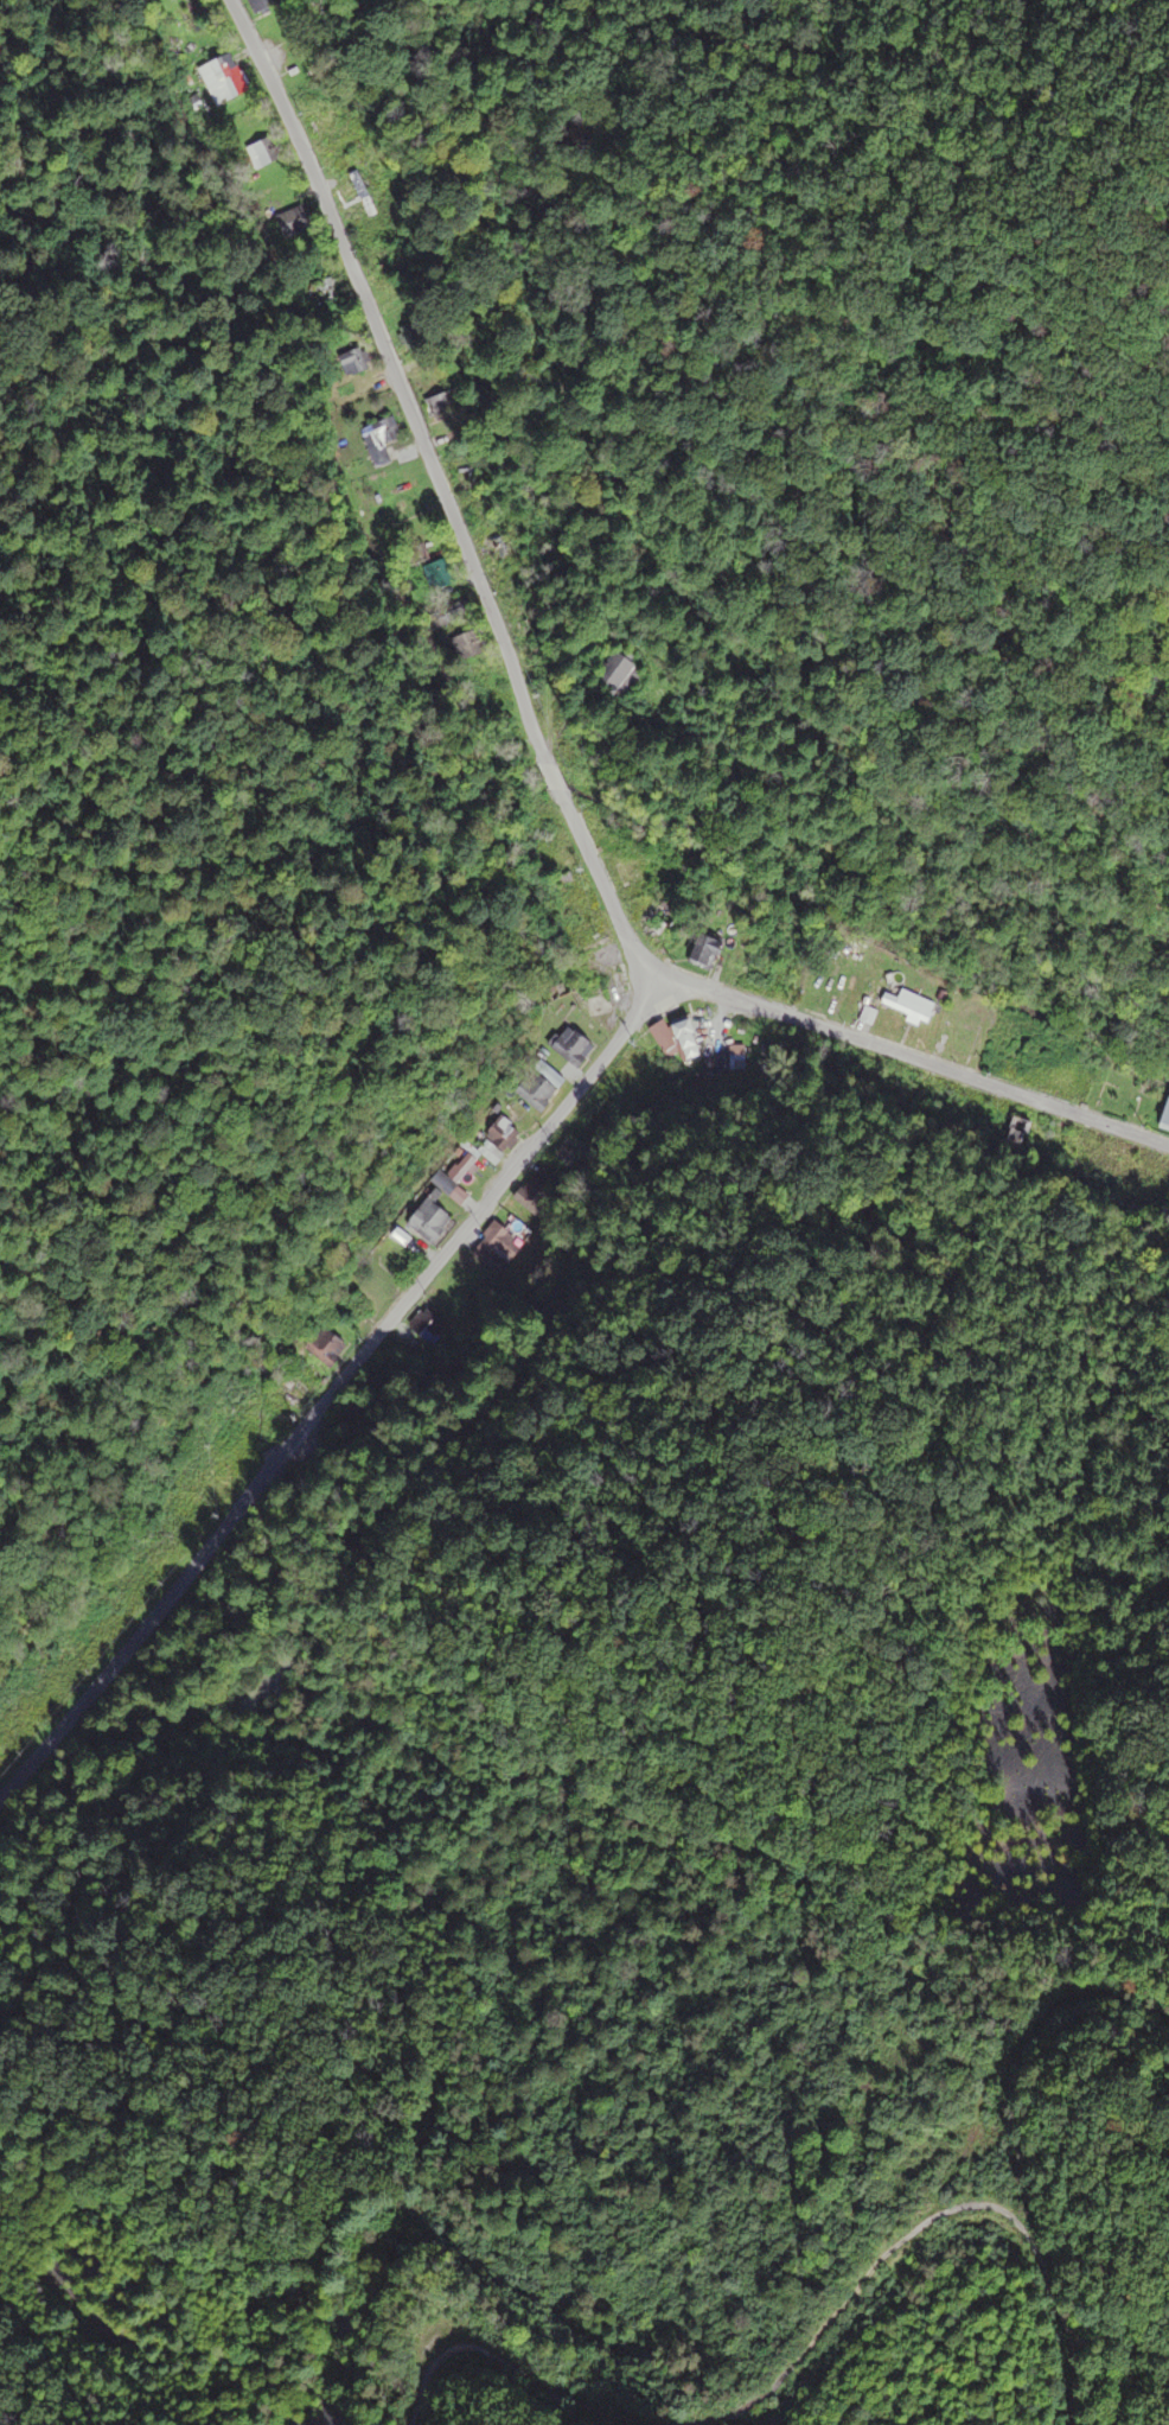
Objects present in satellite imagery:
road: (552, 734)
road: (328, 1407)
road: (902, 2176)
road: (477, 2367)

